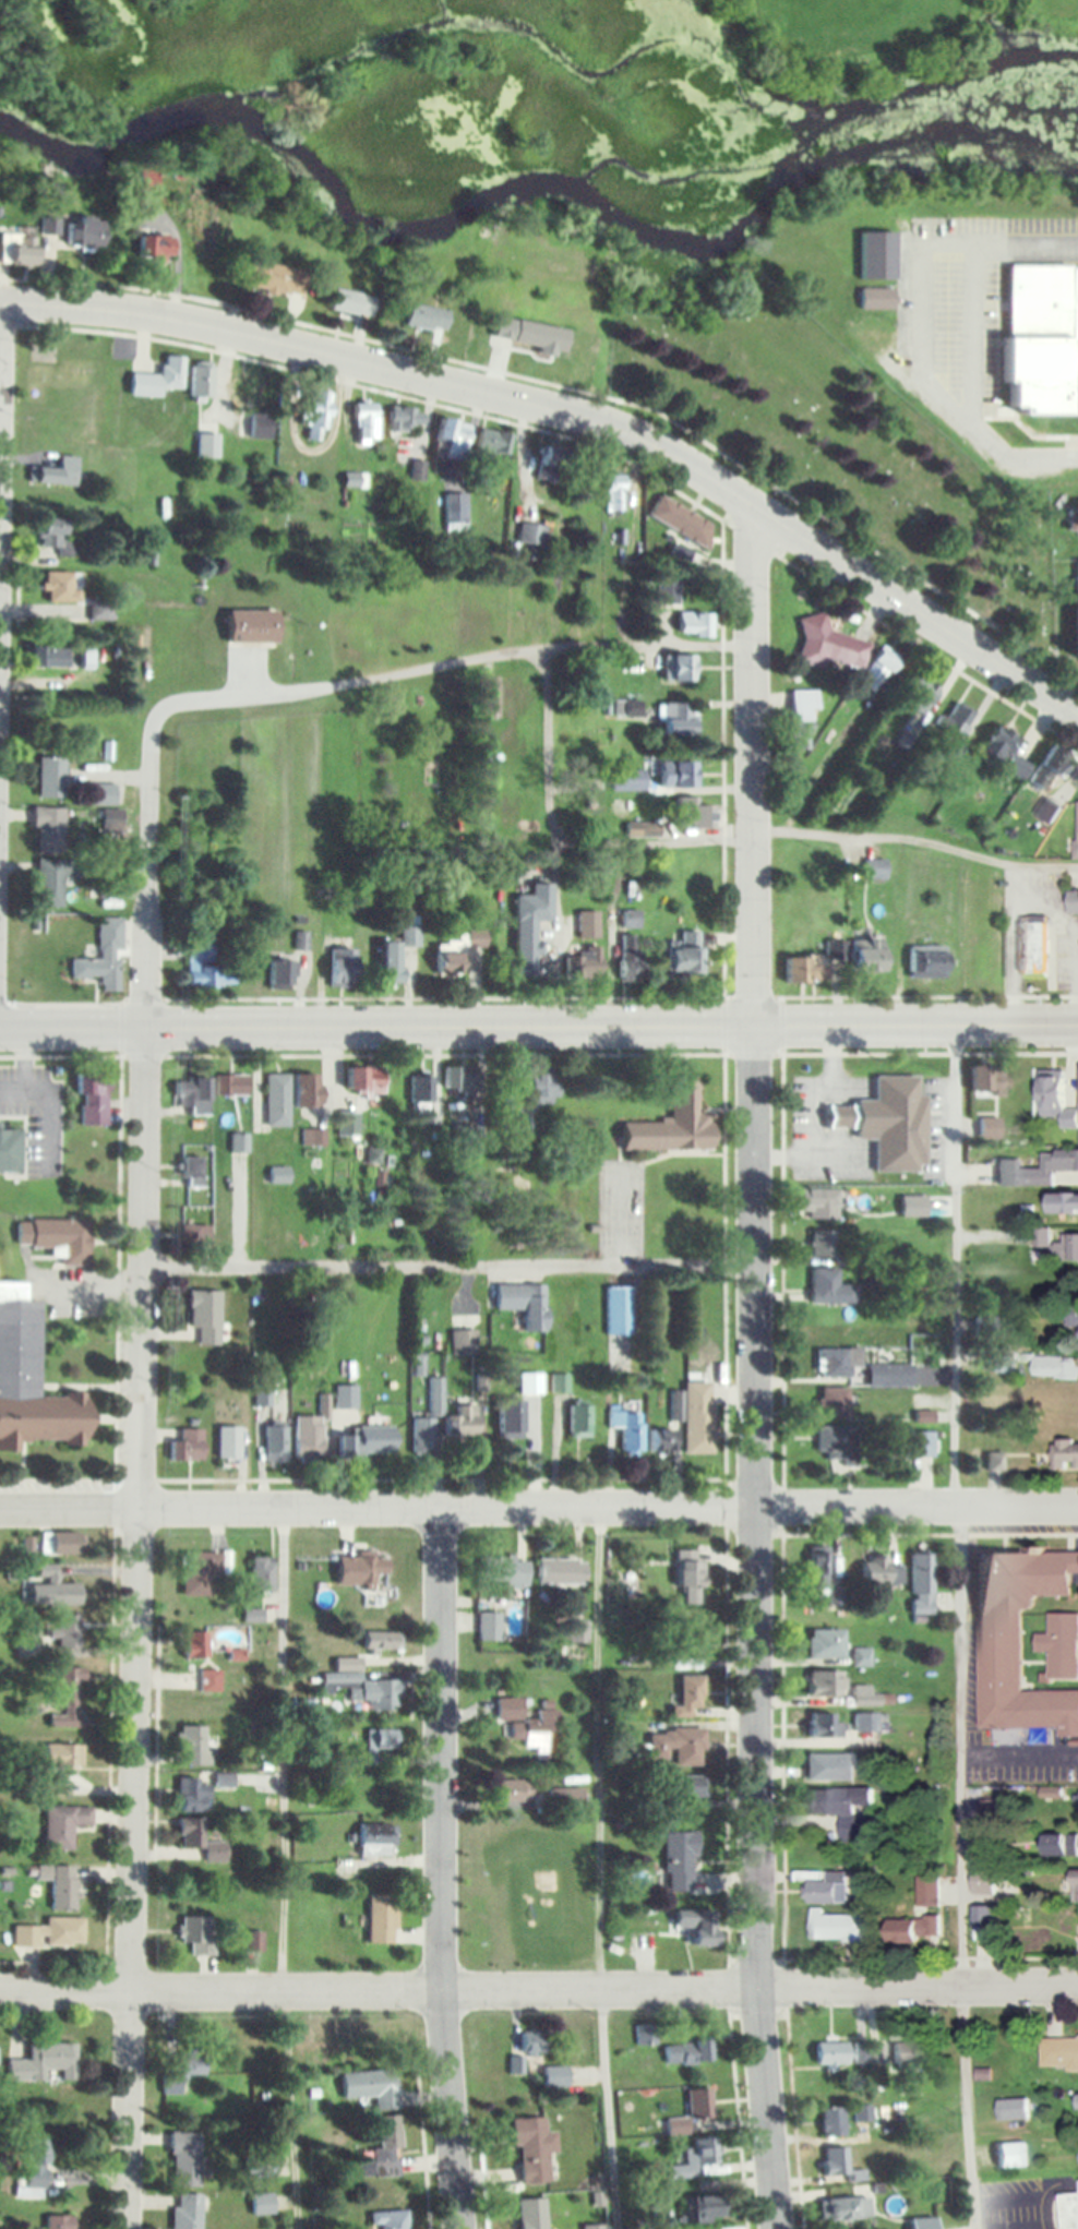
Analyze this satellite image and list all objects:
building: (147, 177)
river: (527, 188)
building: (74, 229)
building: (155, 248)
building: (16, 249)
building: (877, 255)
building: (274, 277)
building: (876, 298)
building: (348, 302)
building: (424, 316)
building: (1042, 339)
building: (156, 379)
building: (199, 381)
building: (245, 393)
road: (2, 398)
road: (575, 407)
building: (315, 412)
building: (395, 420)
building: (363, 423)
building: (257, 427)
park: (798, 429)
building: (453, 439)
building: (491, 443)
building: (205, 445)
building: (416, 470)
building: (57, 472)
building: (613, 493)
building: (455, 512)
building: (1074, 517)
building: (681, 522)
building: (531, 534)
building: (53, 536)
building: (59, 588)
building: (668, 591)
building: (1076, 611)
building: (693, 624)
building: (249, 627)
building: (828, 645)
building: (47, 657)
road: (444, 666)
building: (877, 669)
building: (679, 670)
building: (919, 694)
building: (488, 698)
building: (802, 718)
building: (676, 722)
building: (956, 729)
building: (996, 747)
road: (752, 760)
building: (1015, 768)
building: (1045, 769)
building: (678, 776)
building: (50, 778)
building: (627, 780)
building: (100, 795)
building: (1049, 811)
building: (692, 813)
building: (110, 822)
building: (47, 829)
building: (1077, 829)
building: (642, 830)
road: (917, 839)
building: (875, 870)
road: (147, 877)
building: (48, 884)
building: (1074, 901)
building: (535, 906)
building: (588, 925)
building: (1032, 939)
building: (524, 955)
building: (684, 956)
building: (866, 956)
building: (101, 957)
building: (926, 960)
building: (390, 963)
building: (585, 963)
building: (448, 966)
building: (815, 966)
building: (202, 968)
building: (342, 971)
building: (279, 974)
road: (539, 1023)
building: (462, 1078)
building: (992, 1078)
building: (363, 1079)
building: (231, 1084)
building: (541, 1086)
building: (426, 1088)
building: (306, 1090)
building: (191, 1092)
building: (92, 1096)
building: (1055, 1098)
building: (276, 1099)
building: (894, 1118)
building: (673, 1121)
building: (346, 1123)
building: (989, 1127)
building: (312, 1137)
building: (238, 1141)
building: (9, 1150)
building: (1037, 1169)
building: (191, 1171)
building: (277, 1174)
building: (817, 1201)
building: (1064, 1201)
building: (912, 1206)
building: (194, 1234)
building: (1045, 1236)
building: (56, 1237)
building: (1067, 1245)
road: (447, 1265)
building: (827, 1286)
building: (524, 1303)
building: (203, 1315)
building: (1071, 1316)
building: (624, 1326)
building: (837, 1361)
building: (1055, 1366)
building: (888, 1375)
building: (28, 1381)
building: (559, 1382)
building: (435, 1394)
building: (345, 1395)
building: (1067, 1404)
building: (696, 1416)
building: (510, 1417)
building: (460, 1419)
building: (579, 1419)
building: (626, 1426)
building: (660, 1439)
building: (369, 1441)
building: (838, 1442)
building: (227, 1443)
building: (919, 1443)
building: (189, 1445)
building: (274, 1446)
building: (307, 1448)
building: (1065, 1454)
road: (539, 1509)
building: (60, 1543)
building: (818, 1566)
building: (359, 1569)
building: (502, 1570)
building: (560, 1571)
building: (199, 1572)
building: (879, 1572)
building: (261, 1574)
building: (690, 1581)
building: (922, 1584)
building: (58, 1587)
building: (488, 1626)
road: (755, 1626)
road: (959, 1626)
road: (135, 1628)
building: (578, 1632)
building: (64, 1633)
building: (26, 1638)
building: (226, 1638)
building: (381, 1640)
building: (1018, 1640)
building: (826, 1643)
building: (193, 1644)
building: (1061, 1645)
building: (685, 1649)
building: (861, 1656)
building: (208, 1680)
building: (825, 1682)
building: (360, 1685)
building: (688, 1695)
building: (865, 1697)
building: (68, 1699)
building: (866, 1722)
building: (526, 1724)
building: (824, 1725)
building: (383, 1739)
building: (193, 1745)
building: (675, 1747)
building: (61, 1754)
building: (831, 1767)
building: (223, 1781)
building: (50, 1784)
building: (690, 1787)
building: (512, 1791)
building: (190, 1795)
building: (564, 1798)
building: (846, 1810)
building: (62, 1825)
building: (190, 1834)
building: (378, 1839)
building: (1061, 1846)
building: (214, 1853)
building: (680, 1855)
road: (282, 1868)
road: (441, 1869)
road: (600, 1869)
building: (983, 1881)
building: (59, 1885)
building: (1075, 1888)
building: (829, 1890)
building: (927, 1892)
building: (380, 1918)
building: (697, 1926)
building: (837, 1927)
building: (911, 1929)
building: (49, 1933)
building: (193, 1936)
building: (253, 1942)
road: (538, 1984)
building: (646, 2035)
building: (531, 2041)
building: (1059, 2051)
building: (686, 2052)
building: (830, 2052)
building: (907, 2052)
building: (43, 2061)
building: (182, 2071)
building: (553, 2075)
building: (371, 2086)
building: (1077, 2098)
building: (1011, 2109)
building: (693, 2111)
building: (861, 2112)
building: (831, 2121)
building: (530, 2149)
building: (382, 2152)
building: (1011, 2155)
building: (697, 2158)
building: (184, 2159)
building: (834, 2160)
building: (34, 2167)
building: (261, 2204)
building: (705, 2208)
building: (845, 2208)
building: (1068, 2210)
building: (531, 2214)
building: (388, 2219)
building: (56, 2222)
building: (922, 2222)

